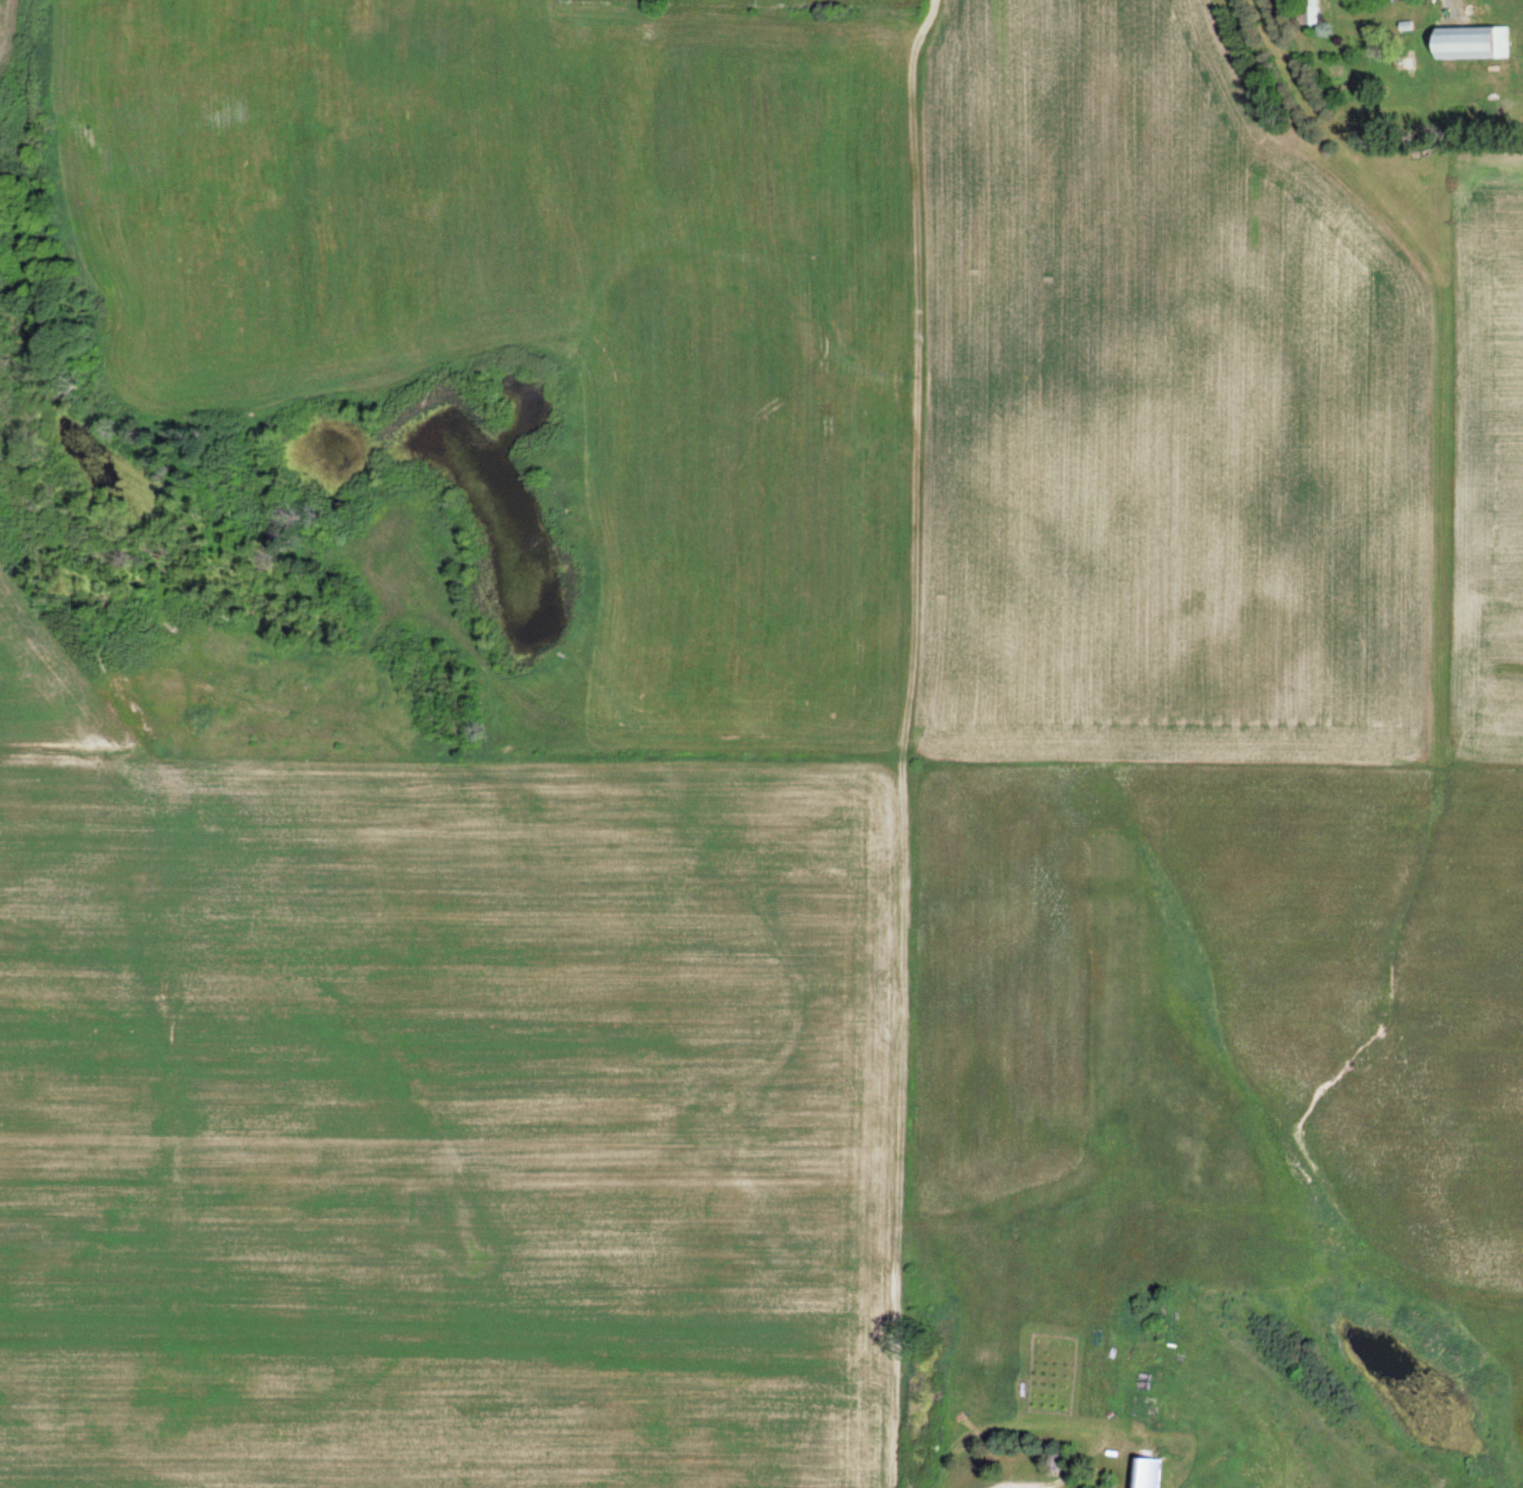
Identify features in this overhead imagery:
building: (1308, 12)
building: (1470, 44)
building: (1145, 1473)

